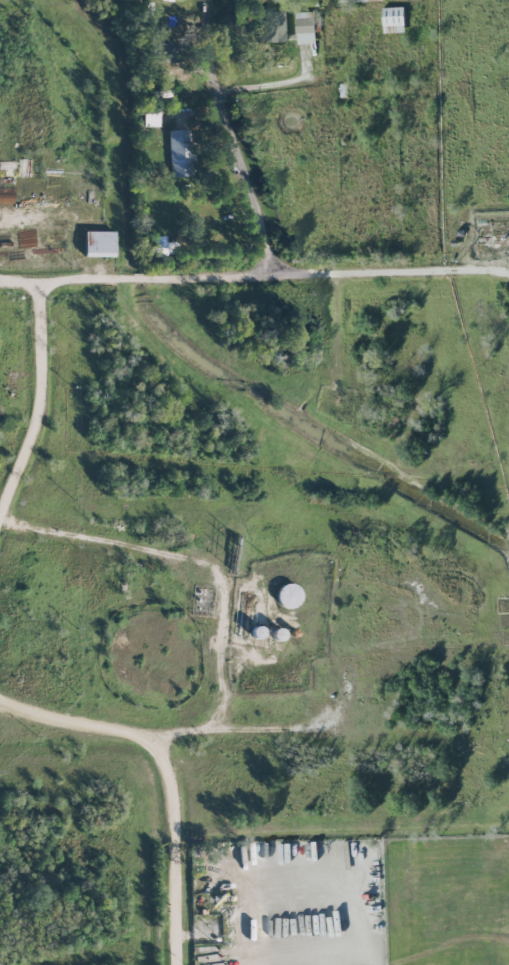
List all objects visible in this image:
building: (361, 0)
building: (394, 20)
building: (271, 26)
building: (305, 28)
building: (161, 52)
road: (272, 90)
building: (150, 119)
building: (180, 152)
road: (241, 172)
building: (99, 243)
building: (158, 246)
road: (327, 274)
road: (139, 277)
road: (65, 278)
road: (44, 409)
road: (221, 578)
building: (288, 595)
road: (296, 728)
road: (170, 773)

